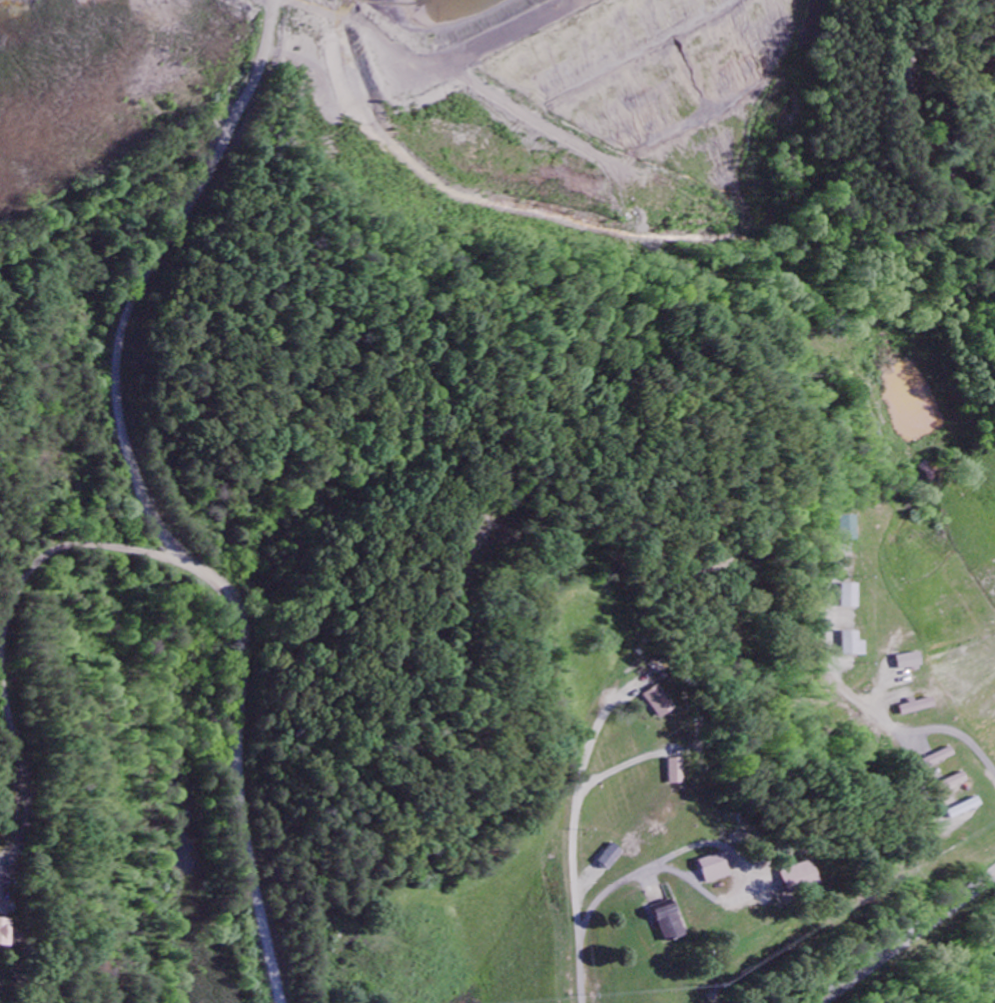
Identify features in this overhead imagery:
road: (80, 232)
road: (143, 504)
building: (853, 597)
road: (4, 646)
building: (854, 646)
building: (908, 662)
building: (656, 700)
road: (855, 701)
building: (917, 707)
building: (674, 769)
road: (614, 772)
building: (955, 786)
building: (964, 809)
road: (574, 828)
road: (721, 847)
building: (610, 855)
building: (711, 869)
building: (793, 877)
building: (665, 919)
building: (3, 931)
road: (909, 938)
road: (20, 980)

